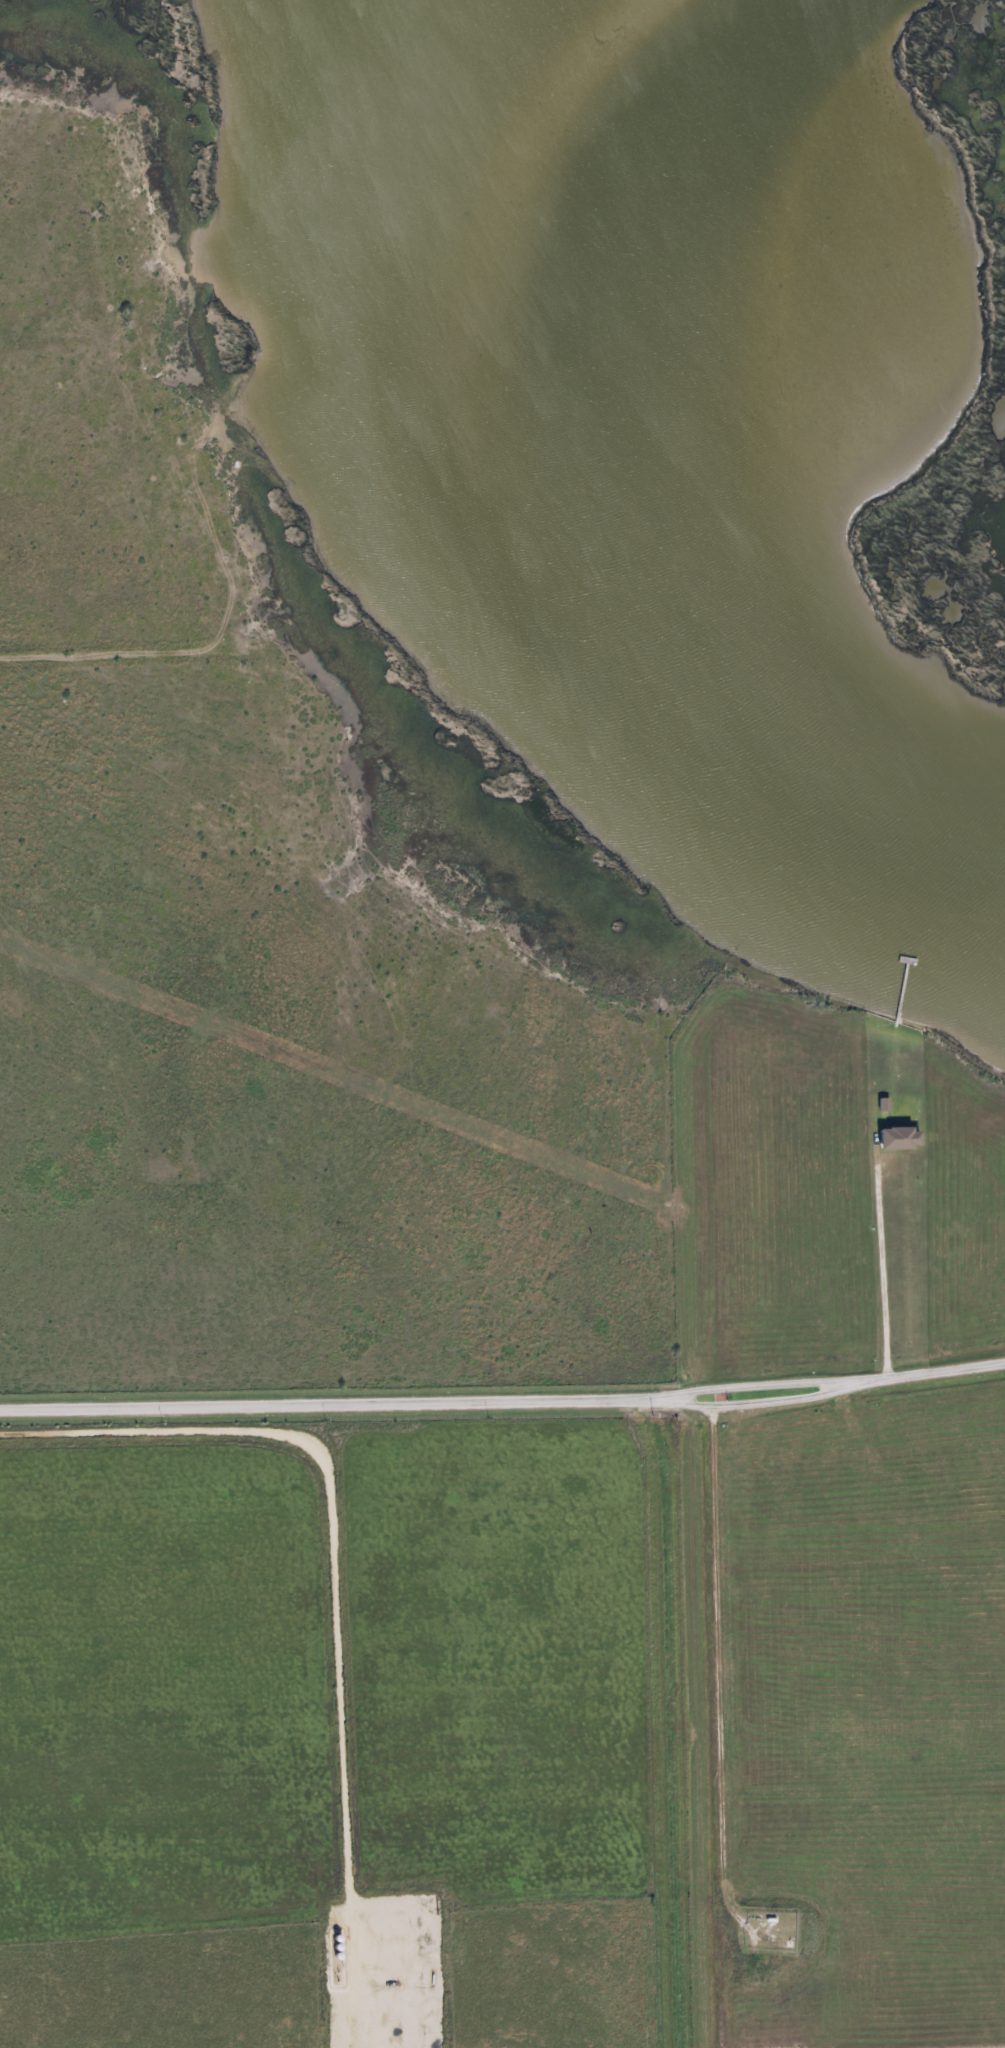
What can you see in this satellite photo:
building: (905, 1138)

